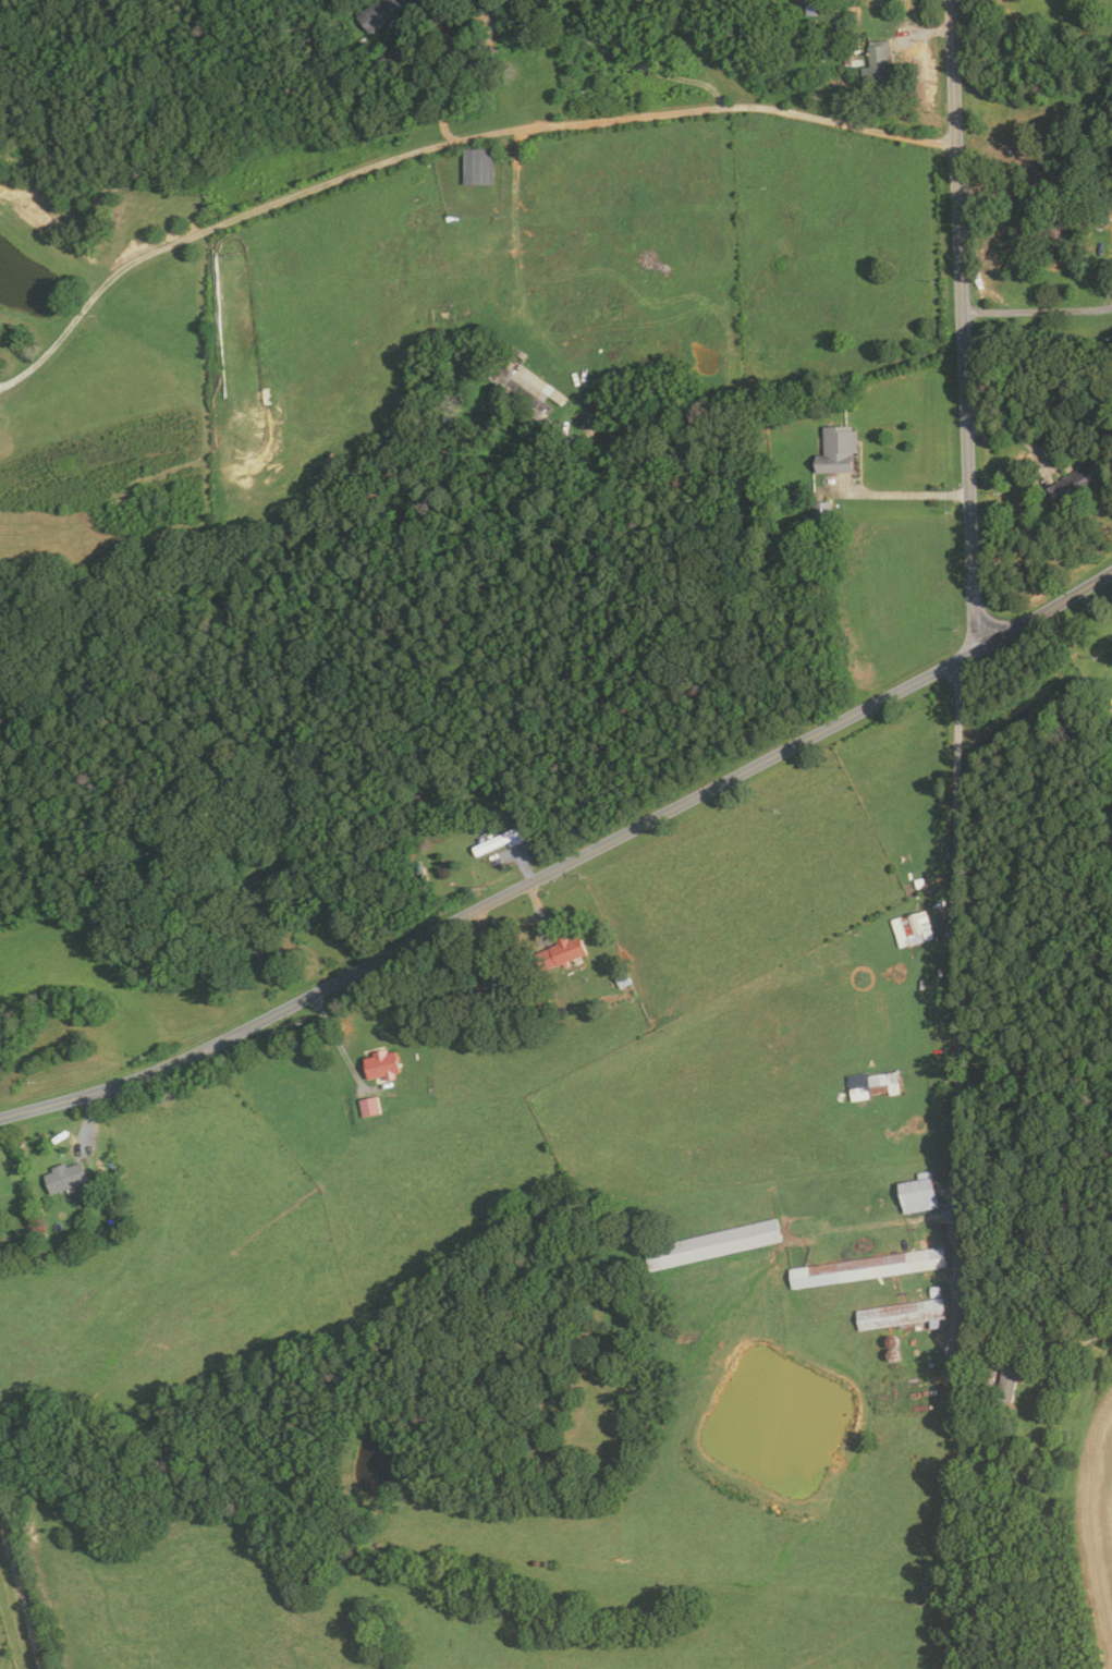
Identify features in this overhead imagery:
building: (380, 12)
building: (795, 31)
road: (926, 32)
road: (692, 37)
road: (598, 39)
building: (854, 50)
building: (880, 63)
road: (467, 77)
road: (754, 106)
building: (479, 167)
building: (1042, 182)
road: (250, 212)
building: (1103, 217)
building: (1052, 235)
road: (1037, 312)
road: (963, 325)
building: (525, 383)
building: (266, 395)
building: (546, 425)
road: (1015, 437)
building: (840, 450)
building: (1074, 486)
road: (905, 495)
building: (821, 516)
building: (455, 778)
building: (501, 785)
building: (308, 824)
building: (503, 840)
building: (239, 861)
road: (565, 864)
building: (421, 874)
road: (537, 913)
building: (298, 917)
building: (920, 927)
building: (562, 951)
building: (261, 954)
building: (467, 963)
building: (623, 978)
building: (523, 991)
road: (956, 1009)
road: (338, 1041)
building: (384, 1064)
building: (884, 1083)
building: (372, 1106)
road: (87, 1122)
building: (99, 1167)
building: (68, 1177)
building: (117, 1186)
building: (920, 1193)
building: (714, 1244)
building: (868, 1267)
building: (937, 1291)
building: (904, 1314)
road: (1079, 1335)
building: (981, 1347)
building: (1009, 1380)
building: (1014, 1475)
crop: (1096, 1525)
road: (20, 1598)

